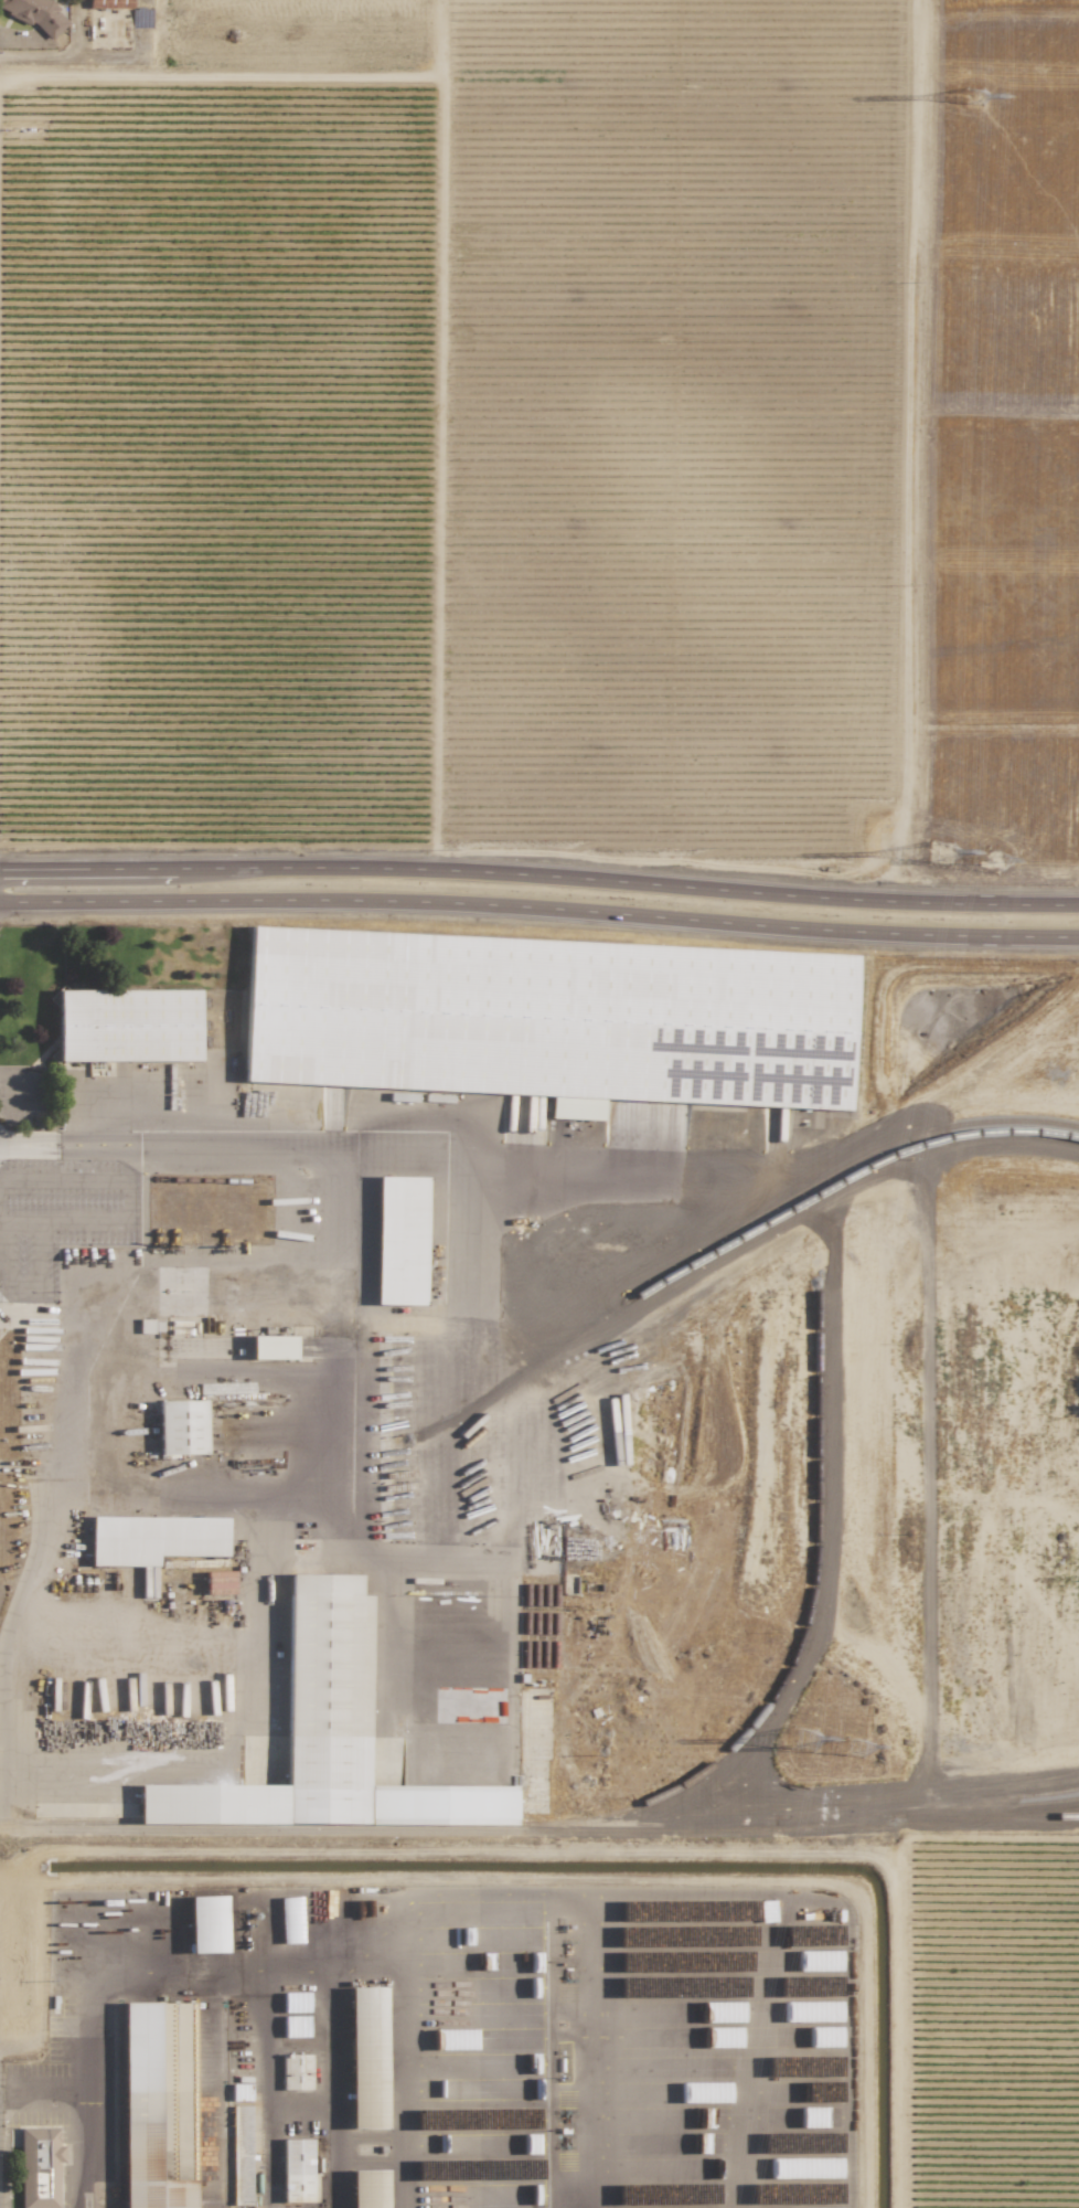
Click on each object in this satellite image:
building: (109, 3)
building: (35, 14)
power tower: (968, 98)
power tower: (938, 853)
power tower: (990, 860)
road: (539, 877)
road: (539, 907)
building: (549, 1019)
building: (127, 1025)
road: (11, 1074)
road: (943, 1139)
road: (408, 1144)
road: (143, 1201)
road: (120, 1223)
building: (399, 1240)
road: (6, 1278)
road: (2, 1293)
building: (149, 1326)
road: (77, 1338)
building: (271, 1347)
building: (181, 1426)
road: (291, 1509)
building: (153, 1539)
building: (218, 1582)
building: (327, 1738)
power tower: (800, 1740)
power tower: (852, 1748)
building: (766, 1911)
building: (289, 1920)
building: (206, 1924)
building: (811, 1934)
building: (704, 1961)
building: (818, 1961)
building: (531, 1962)
building: (525, 1987)
building: (295, 2002)
building: (714, 2011)
building: (525, 2013)
building: (295, 2026)
building: (690, 2037)
building: (806, 2037)
building: (502, 2038)
building: (366, 2058)
building: (526, 2063)
building: (711, 2067)
building: (295, 2072)
road: (89, 2084)
road: (49, 2088)
building: (239, 2092)
building: (704, 2092)
building: (157, 2104)
building: (715, 2117)
building: (801, 2142)
building: (672, 2143)
building: (39, 2167)
building: (707, 2168)
building: (803, 2168)
building: (367, 2189)
building: (826, 2193)
building: (528, 2195)

